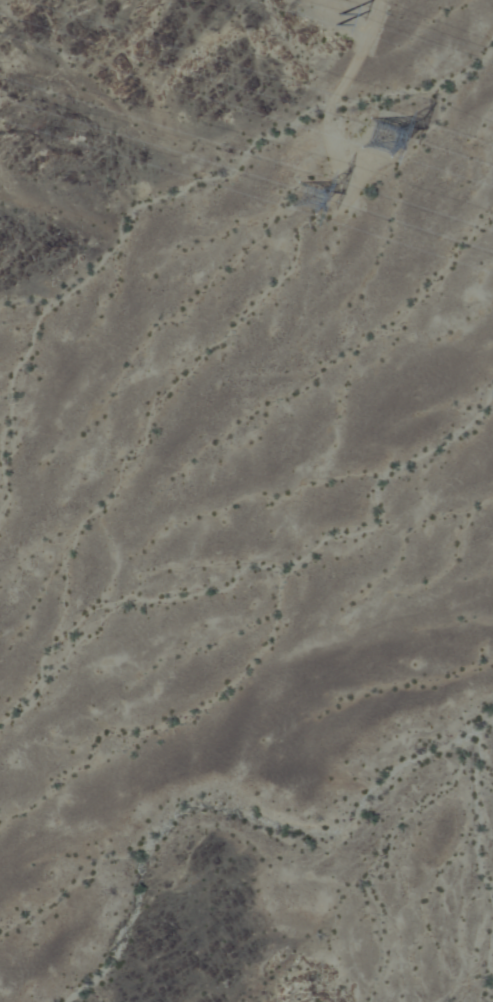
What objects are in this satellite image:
power tower: (329, 25)
power tower: (382, 134)
power tower: (312, 197)

